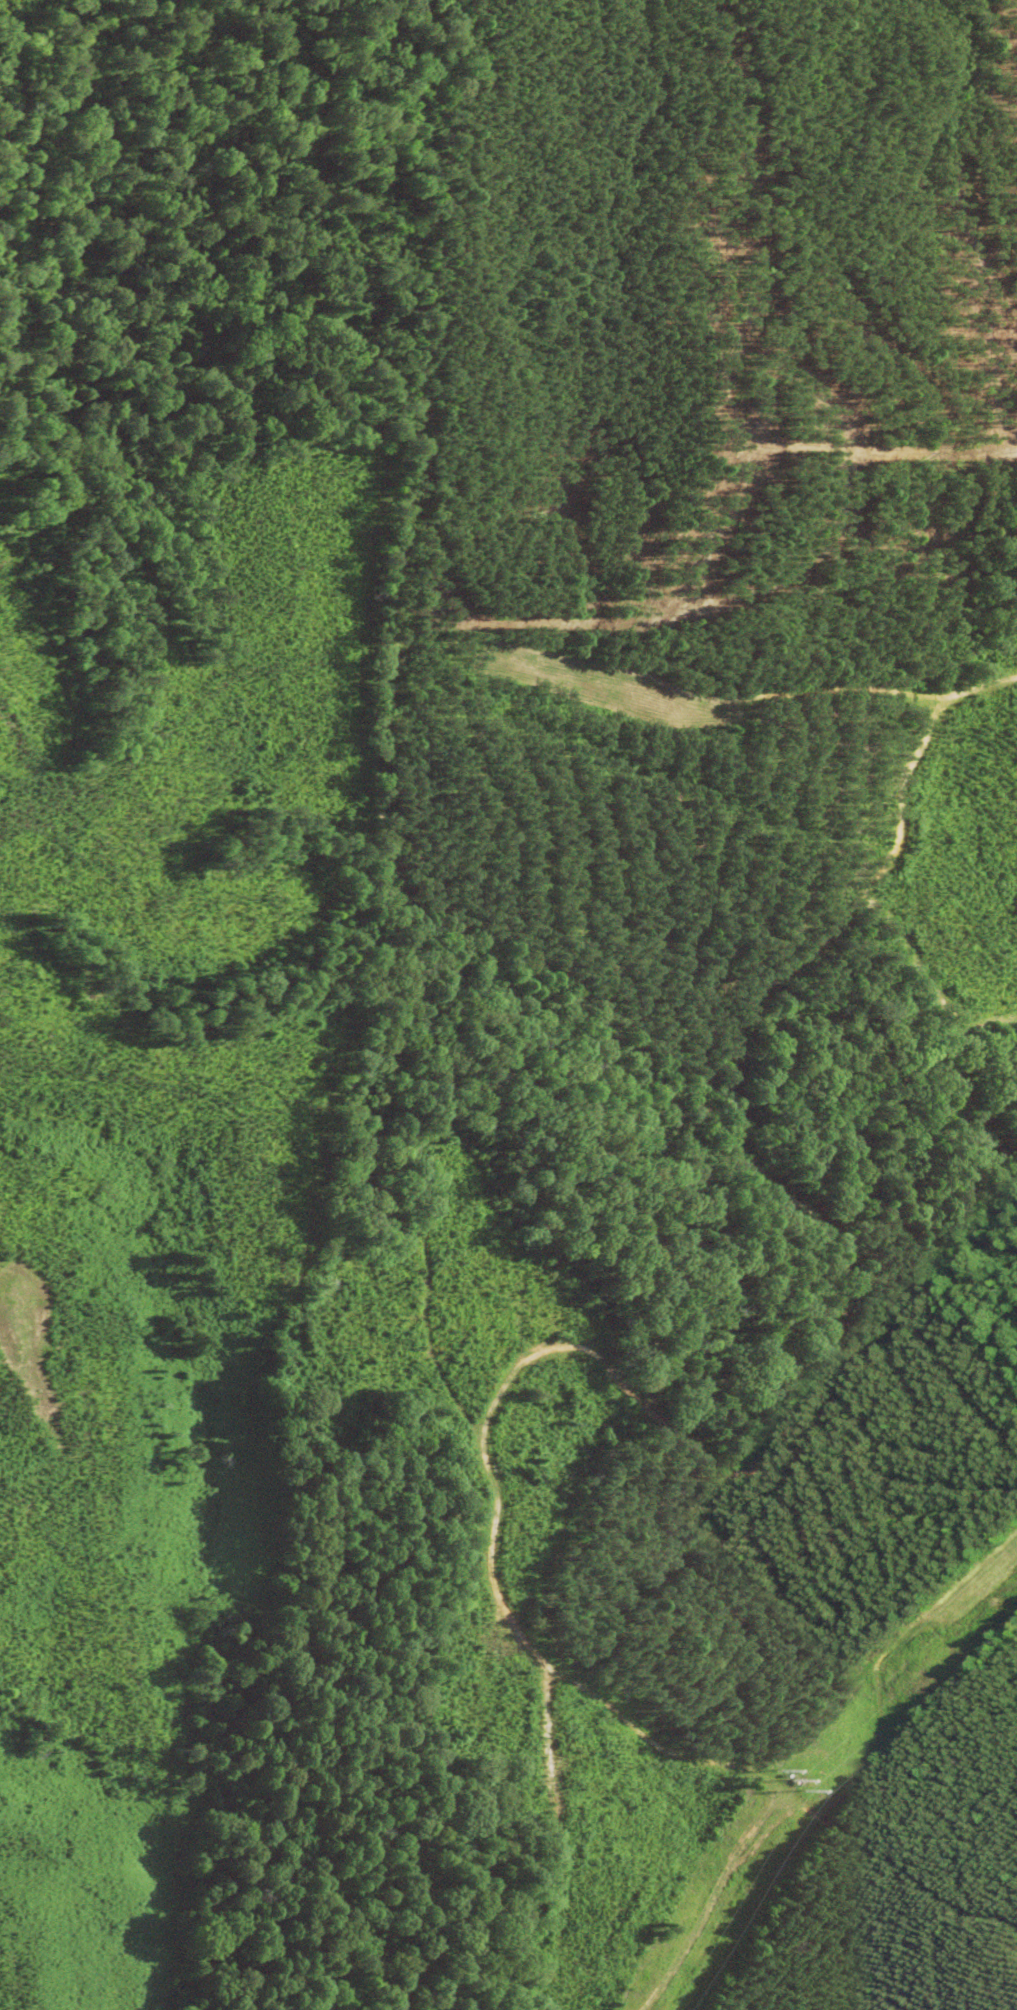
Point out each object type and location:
power tower: (792, 1787)

